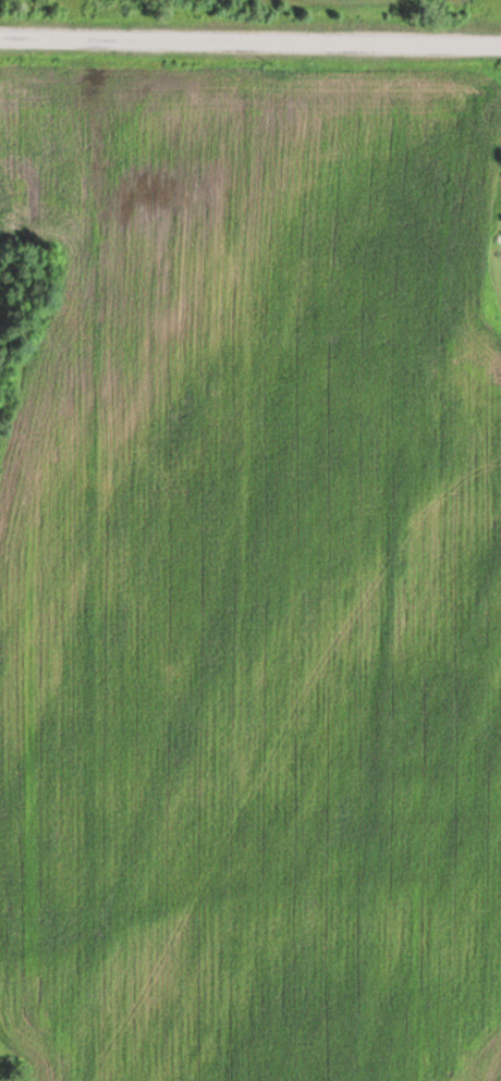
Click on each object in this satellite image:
road: (250, 41)

